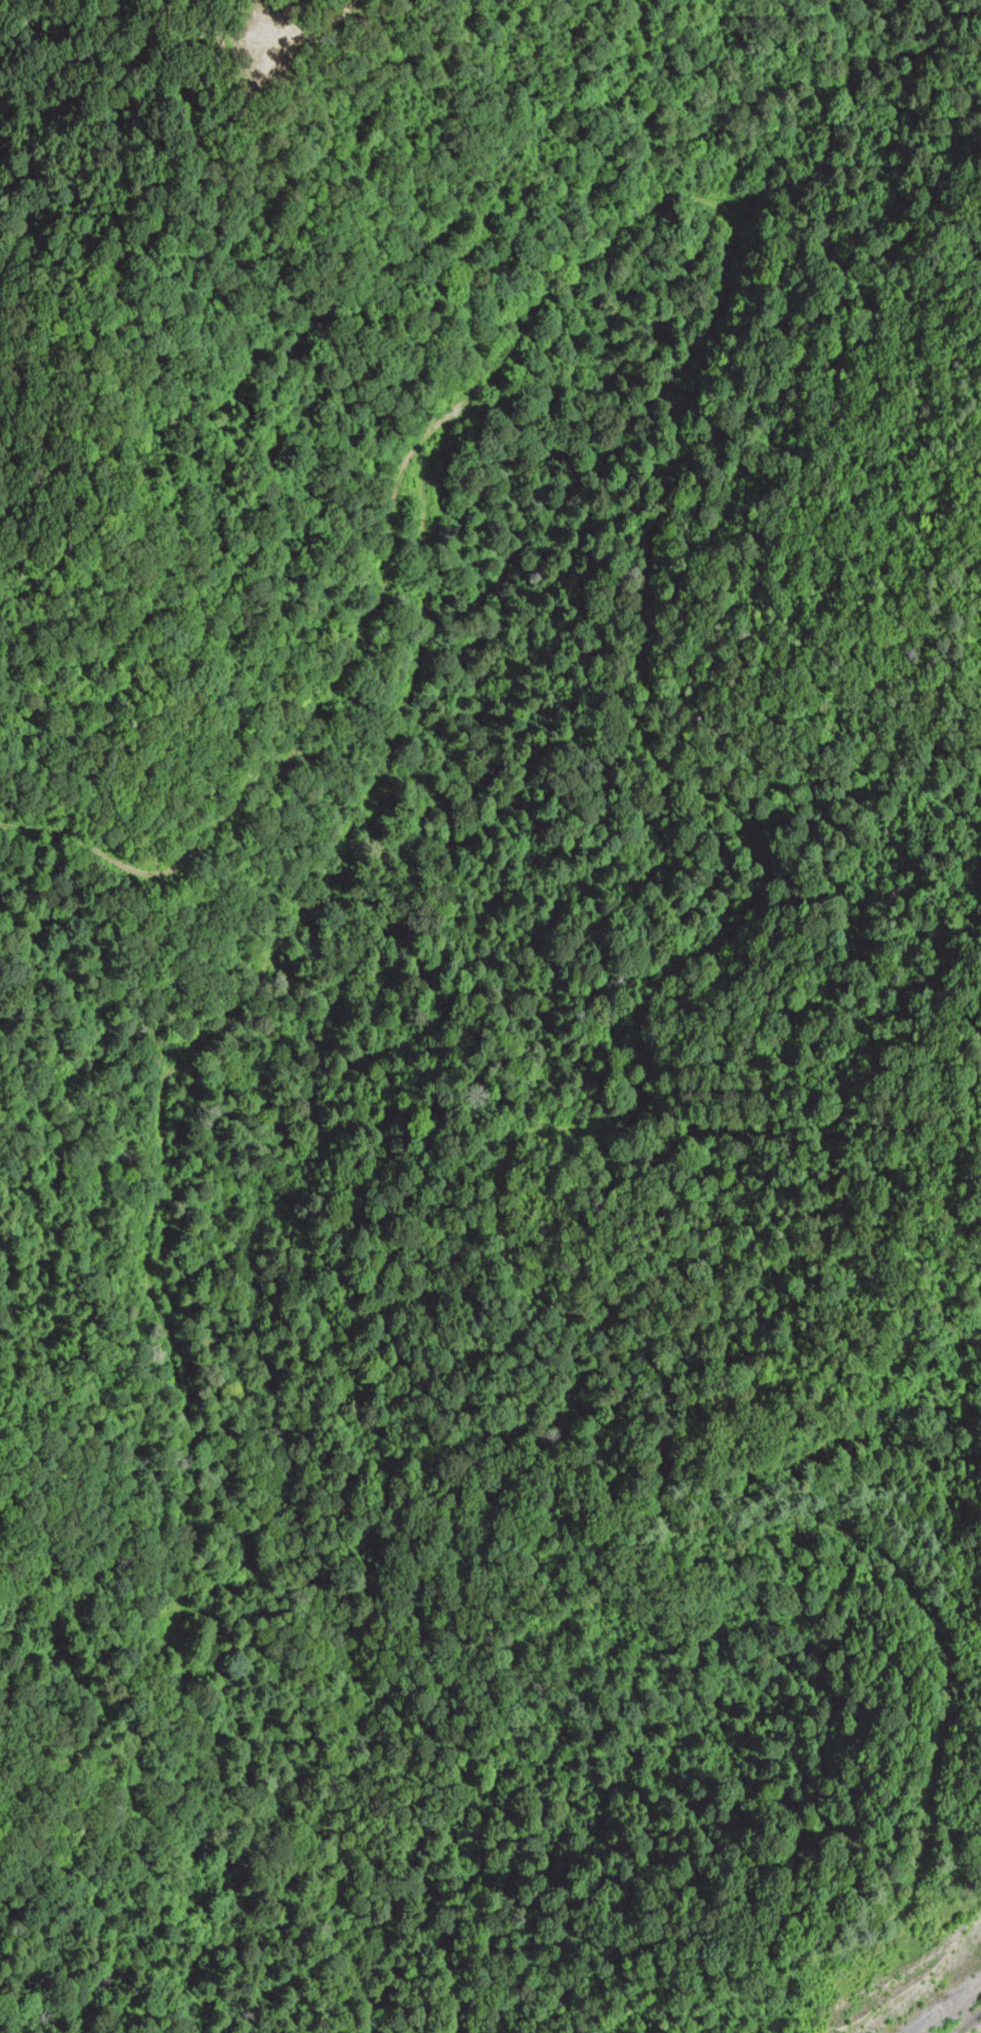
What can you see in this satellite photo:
quarry: (907, 1968)

